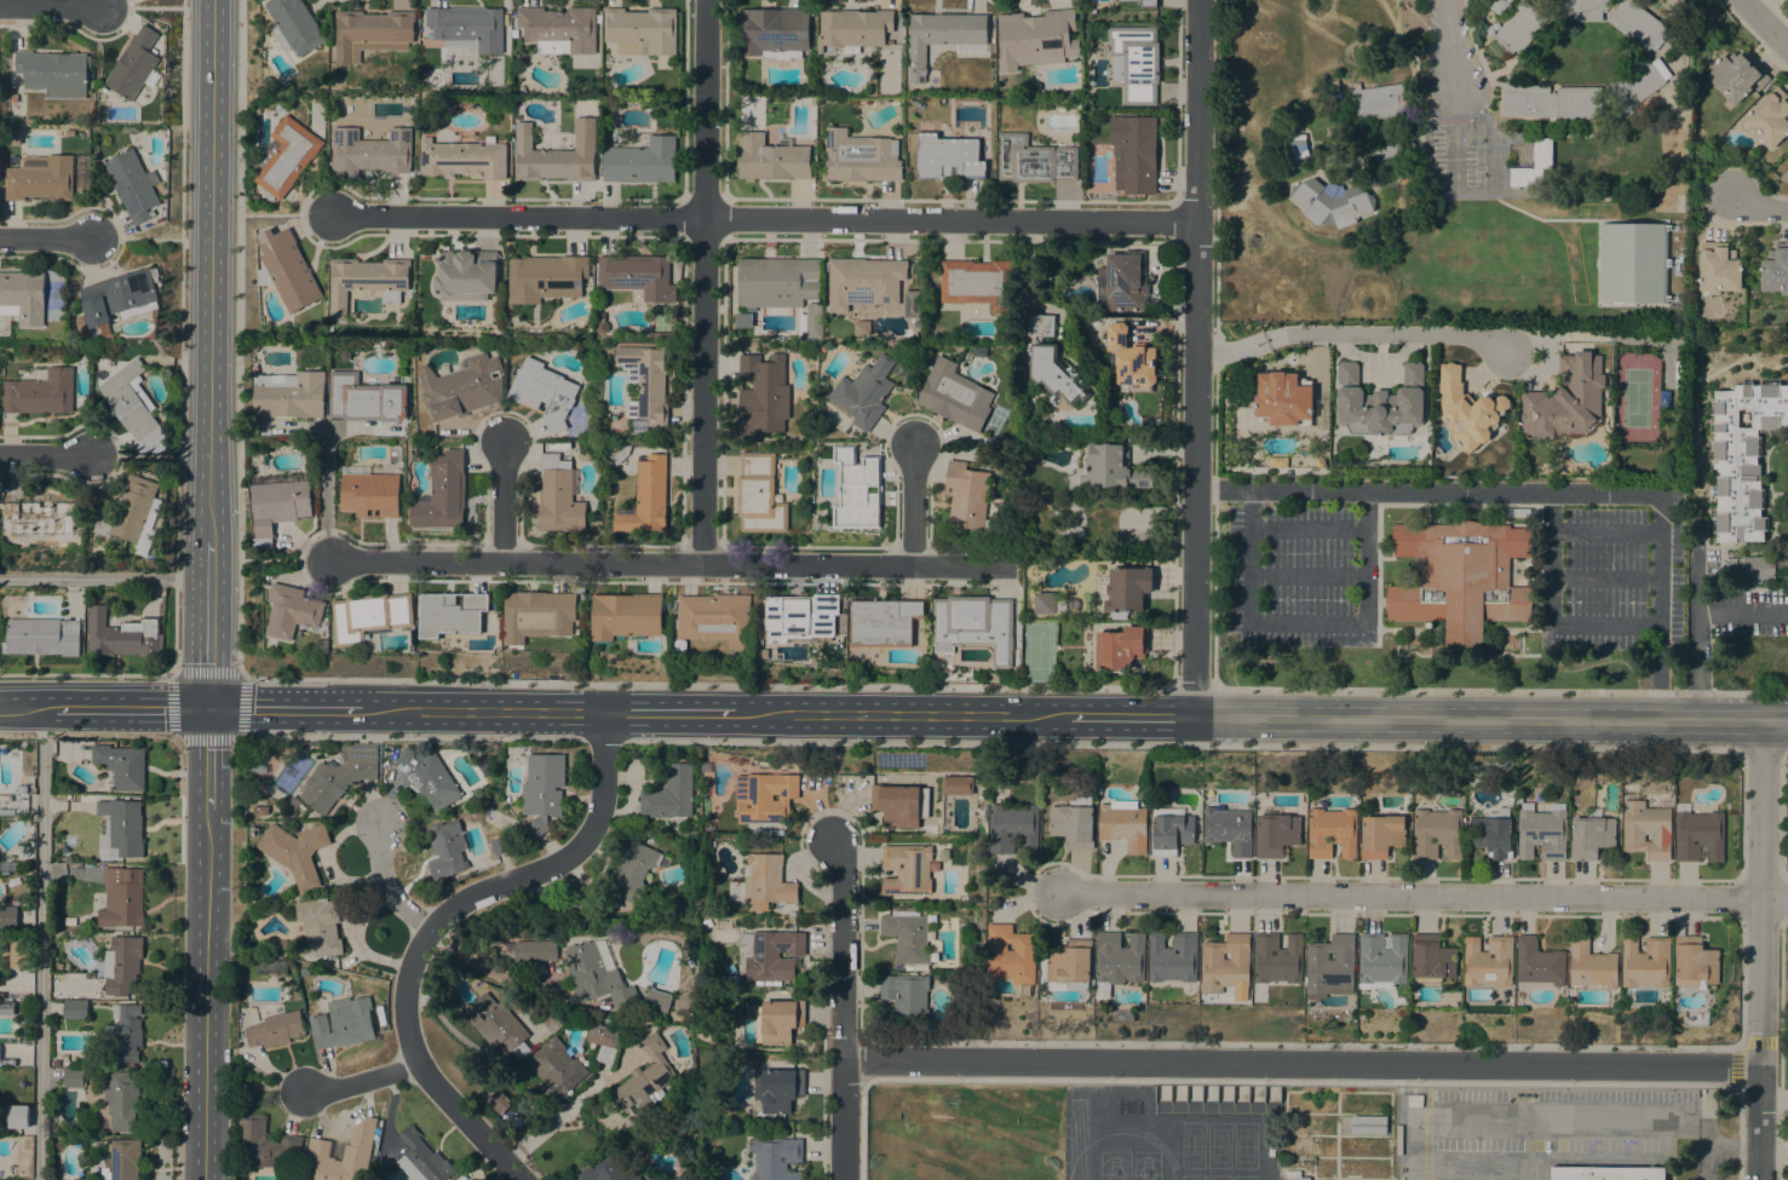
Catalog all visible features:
building: (1144, 2)
road: (51, 5)
road: (142, 6)
building: (1499, 6)
building: (1577, 8)
road: (1445, 19)
building: (1637, 24)
road: (1764, 24)
building: (294, 25)
building: (467, 28)
building: (853, 28)
building: (1518, 28)
building: (559, 29)
building: (642, 30)
building: (372, 33)
building: (514, 33)
building: (775, 33)
building: (943, 38)
building: (1035, 39)
road: (1482, 52)
road: (1453, 61)
building: (1137, 62)
building: (134, 64)
building: (54, 73)
building: (1736, 76)
building: (1638, 84)
building: (1552, 102)
building: (1379, 103)
building: (280, 105)
building: (1769, 117)
building: (1298, 145)
building: (370, 151)
building: (1134, 152)
building: (1392, 152)
building: (556, 155)
building: (953, 155)
building: (861, 156)
building: (286, 157)
building: (772, 157)
building: (464, 159)
building: (1034, 160)
building: (640, 161)
building: (1533, 167)
building: (1787, 168)
building: (41, 178)
building: (133, 184)
building: (1330, 202)
road: (1758, 205)
road: (287, 213)
road: (519, 215)
road: (950, 219)
road: (46, 237)
road: (121, 238)
road: (150, 238)
road: (211, 257)
building: (1632, 261)
building: (1718, 269)
building: (1775, 269)
building: (291, 270)
building: (466, 275)
building: (638, 275)
building: (545, 277)
building: (367, 281)
road: (703, 281)
building: (777, 281)
building: (863, 281)
building: (977, 282)
building: (1122, 282)
building: (24, 297)
building: (121, 297)
building: (912, 304)
building: (811, 322)
building: (602, 323)
building: (1041, 324)
building: (862, 327)
road: (1384, 332)
building: (654, 334)
road: (178, 338)
road: (240, 338)
road: (1214, 343)
road: (1230, 350)
road: (1194, 358)
building: (1131, 359)
building: (1057, 373)
building: (646, 381)
building: (461, 386)
building: (40, 392)
building: (542, 392)
building: (863, 392)
building: (763, 393)
building: (291, 395)
building: (954, 395)
building: (364, 398)
building: (1663, 398)
building: (1566, 399)
building: (1290, 401)
building: (1380, 402)
building: (132, 403)
building: (1467, 409)
building: (617, 454)
road: (45, 456)
building: (1742, 456)
road: (133, 457)
building: (1115, 466)
building: (856, 489)
building: (369, 493)
building: (443, 493)
road: (1540, 493)
road: (327, 495)
building: (558, 495)
building: (759, 495)
building: (967, 496)
building: (645, 497)
road: (501, 501)
road: (912, 503)
building: (277, 507)
building: (1518, 512)
building: (132, 514)
building: (41, 517)
road: (1606, 531)
road: (1552, 559)
road: (283, 560)
road: (673, 562)
building: (1754, 566)
building: (1460, 577)
road: (103, 579)
road: (1605, 579)
building: (1127, 588)
building: (1045, 603)
building: (1073, 605)
road: (207, 610)
building: (292, 611)
building: (452, 612)
building: (369, 615)
building: (537, 615)
building: (626, 616)
building: (800, 616)
building: (715, 617)
building: (884, 621)
road: (1309, 621)
road: (1698, 622)
building: (975, 624)
road: (1606, 626)
building: (122, 635)
building: (41, 637)
building: (682, 645)
building: (1120, 647)
road: (86, 674)
road: (238, 675)
road: (706, 683)
road: (1192, 687)
road: (1500, 690)
road: (27, 707)
road: (131, 708)
traffic signals: (207, 708)
road: (284, 709)
road: (483, 710)
road: (665, 712)
road: (896, 714)
road: (1128, 716)
road: (1490, 719)
road: (87, 736)
road: (408, 738)
road: (602, 738)
road: (1182, 746)
road: (1787, 750)
road: (1763, 752)
road: (206, 758)
building: (121, 765)
building: (483, 766)
building: (339, 775)
building: (427, 776)
building: (954, 788)
building: (542, 789)
building: (668, 793)
building: (764, 796)
building: (293, 802)
building: (896, 804)
building: (260, 810)
building: (7, 811)
building: (1123, 823)
building: (1071, 825)
building: (121, 827)
building: (1645, 827)
building: (1012, 828)
building: (1229, 829)
building: (1541, 830)
building: (1171, 831)
building: (1275, 833)
building: (1332, 833)
building: (1436, 833)
building: (1491, 834)
building: (1381, 835)
building: (1591, 835)
building: (1698, 836)
building: (500, 845)
building: (445, 851)
building: (295, 852)
building: (68, 859)
building: (909, 869)
building: (632, 871)
building: (763, 882)
road: (389, 883)
road: (1412, 897)
building: (121, 898)
road: (1775, 899)
building: (581, 903)
building: (8, 917)
building: (70, 921)
building: (707, 922)
road: (435, 923)
building: (323, 925)
building: (907, 937)
road: (40, 944)
building: (534, 949)
road: (1761, 950)
building: (19, 951)
building: (770, 954)
building: (1011, 955)
building: (1173, 957)
building: (1432, 957)
building: (1119, 960)
building: (1382, 960)
building: (1488, 961)
building: (1645, 961)
building: (1276, 962)
building: (1539, 962)
building: (1695, 962)
building: (121, 963)
building: (1071, 963)
building: (1226, 965)
building: (1330, 967)
building: (1591, 968)
building: (599, 974)
building: (734, 979)
road: (203, 995)
building: (904, 998)
building: (659, 1000)
building: (6, 1007)
road: (843, 1007)
building: (74, 1009)
building: (554, 1020)
building: (781, 1020)
building: (344, 1025)
building: (499, 1025)
building: (275, 1029)
building: (686, 1031)
building: (125, 1032)
building: (603, 1041)
building: (56, 1063)
road: (1300, 1064)
building: (557, 1067)
building: (76, 1076)
building: (646, 1077)
road: (361, 1080)
road: (1295, 1081)
road: (266, 1087)
building: (777, 1089)
building: (122, 1103)
building: (499, 1103)
road: (573, 1106)
building: (18, 1116)
road: (1550, 1116)
building: (1368, 1124)
road: (1706, 1127)
building: (263, 1142)
park: (1194, 1145)
park: (1219, 1146)
park: (1246, 1146)
road: (1534, 1147)
road: (1706, 1147)
road: (1747, 1149)
building: (776, 1158)
building: (122, 1159)
building: (422, 1159)
track: (1120, 1159)
park: (1114, 1163)
park: (1146, 1163)
building: (328, 1164)
building: (604, 1169)
building: (1606, 1173)
park: (1114, 1176)
building: (636, 1178)
park: (1145, 1178)
park: (1192, 1178)
park: (1218, 1178)
park: (1244, 1178)
building: (1298, 1179)

